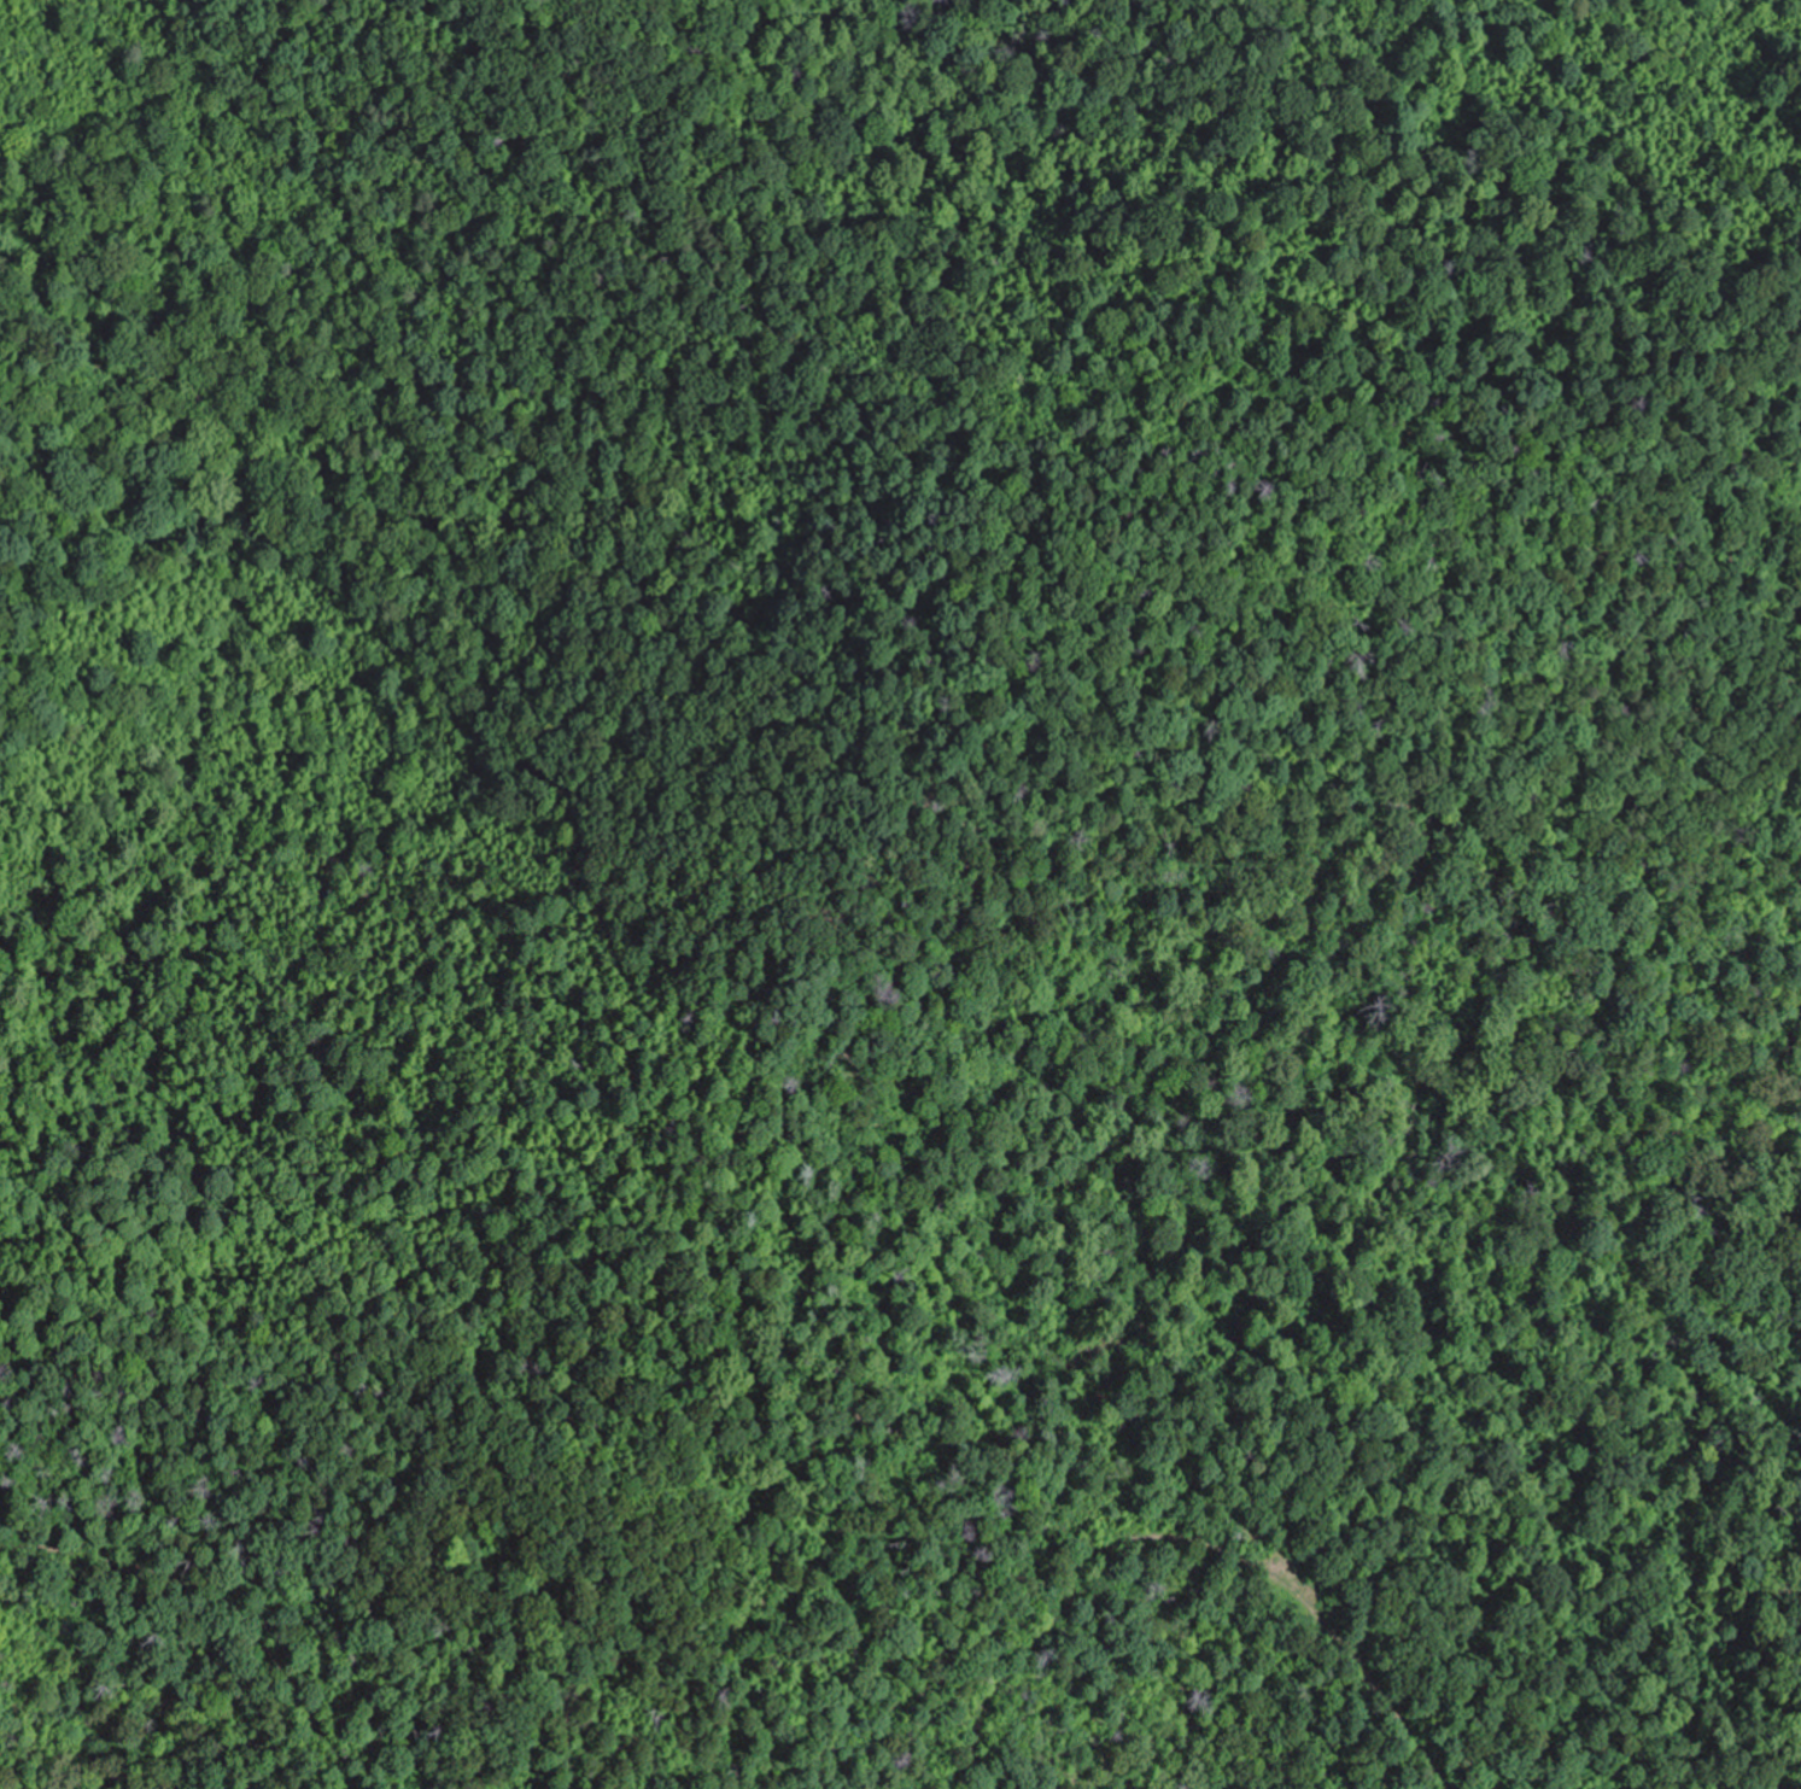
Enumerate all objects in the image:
road: (1188, 1544)
road: (218, 1606)
road: (1387, 1740)

